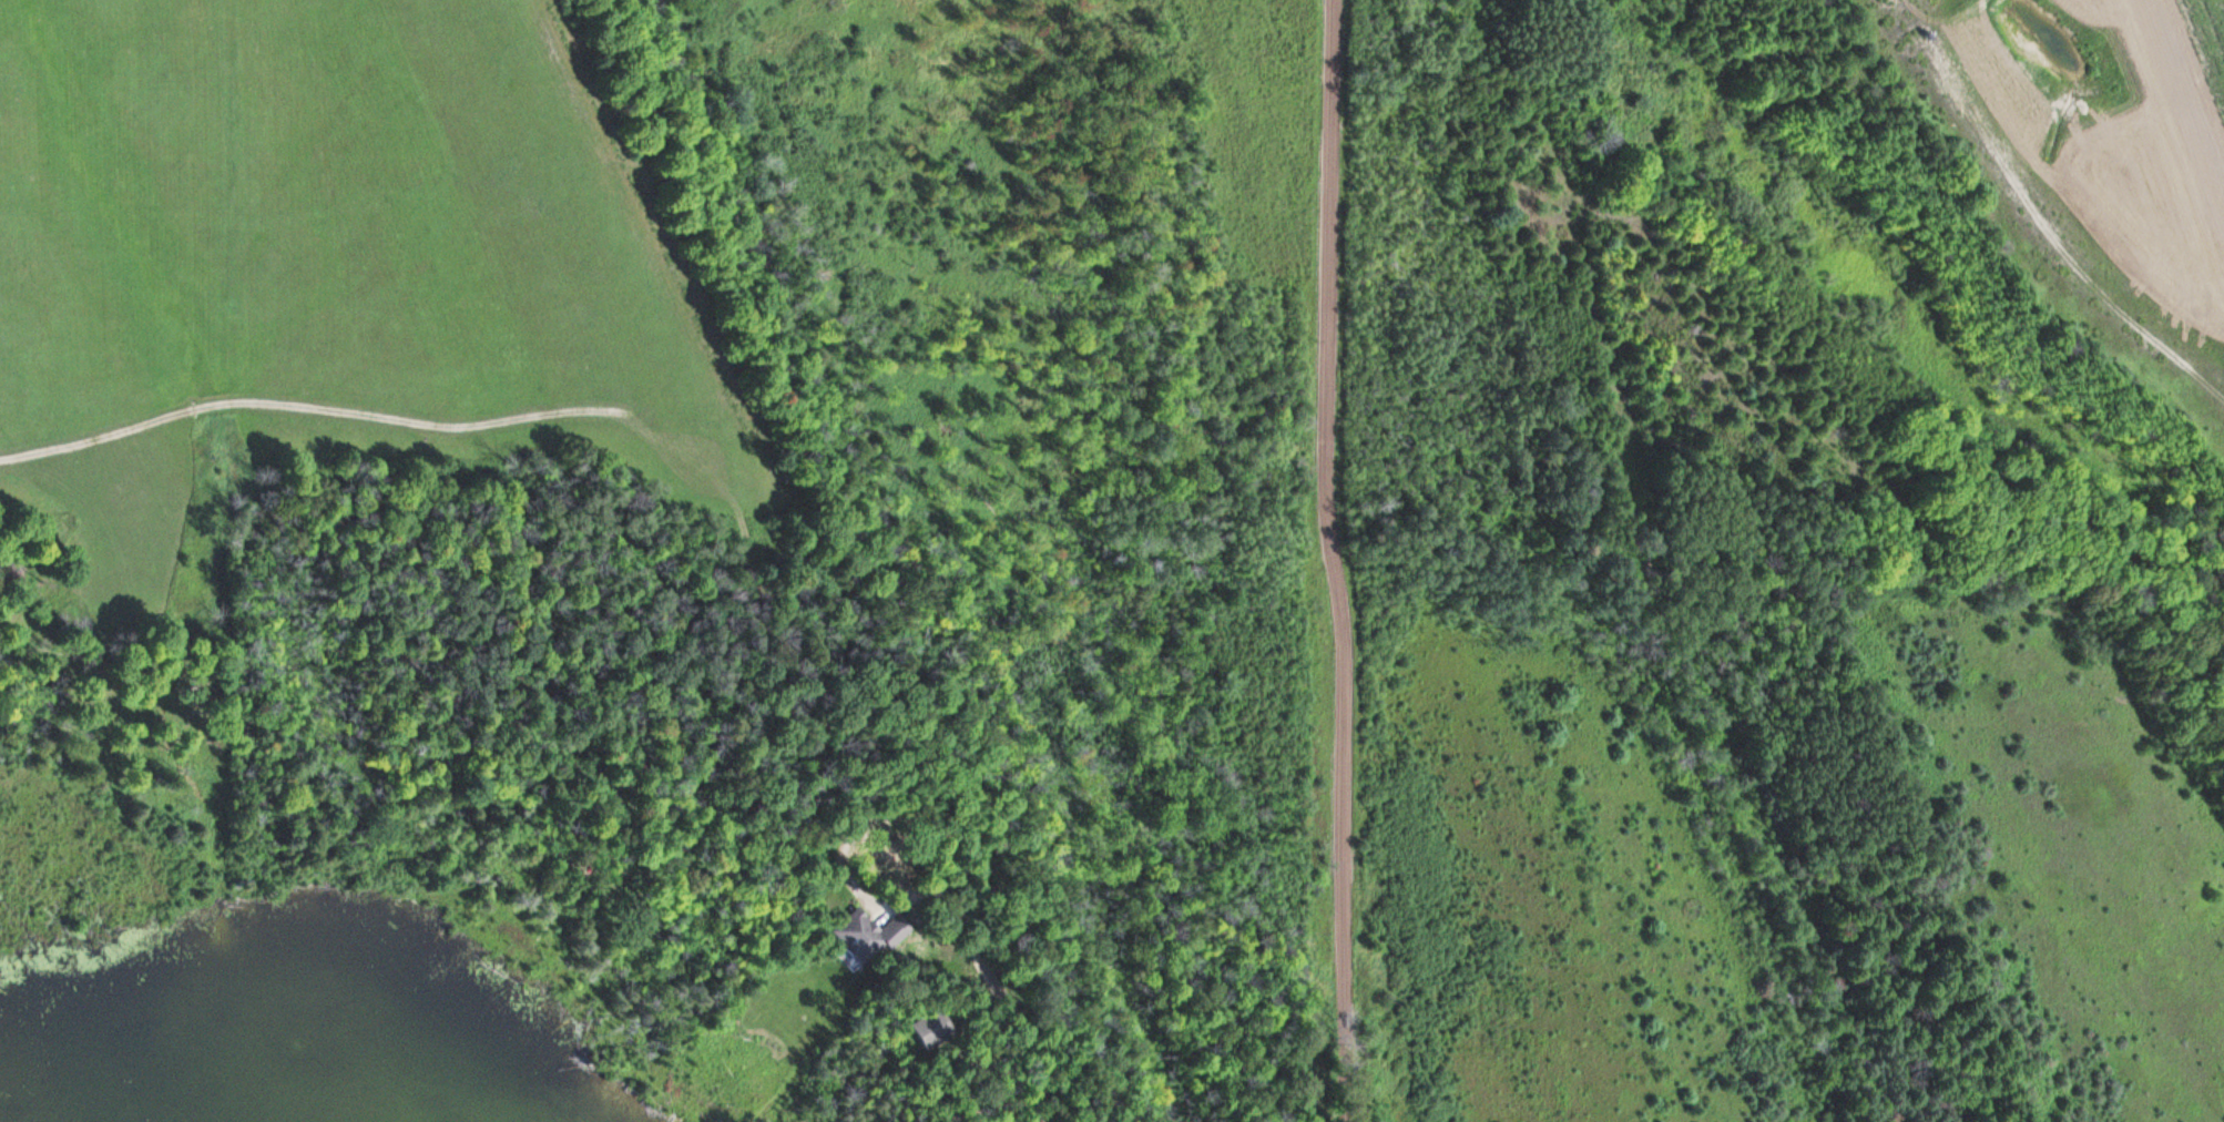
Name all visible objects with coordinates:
road: (1334, 561)
building: (868, 934)
road: (1000, 988)

